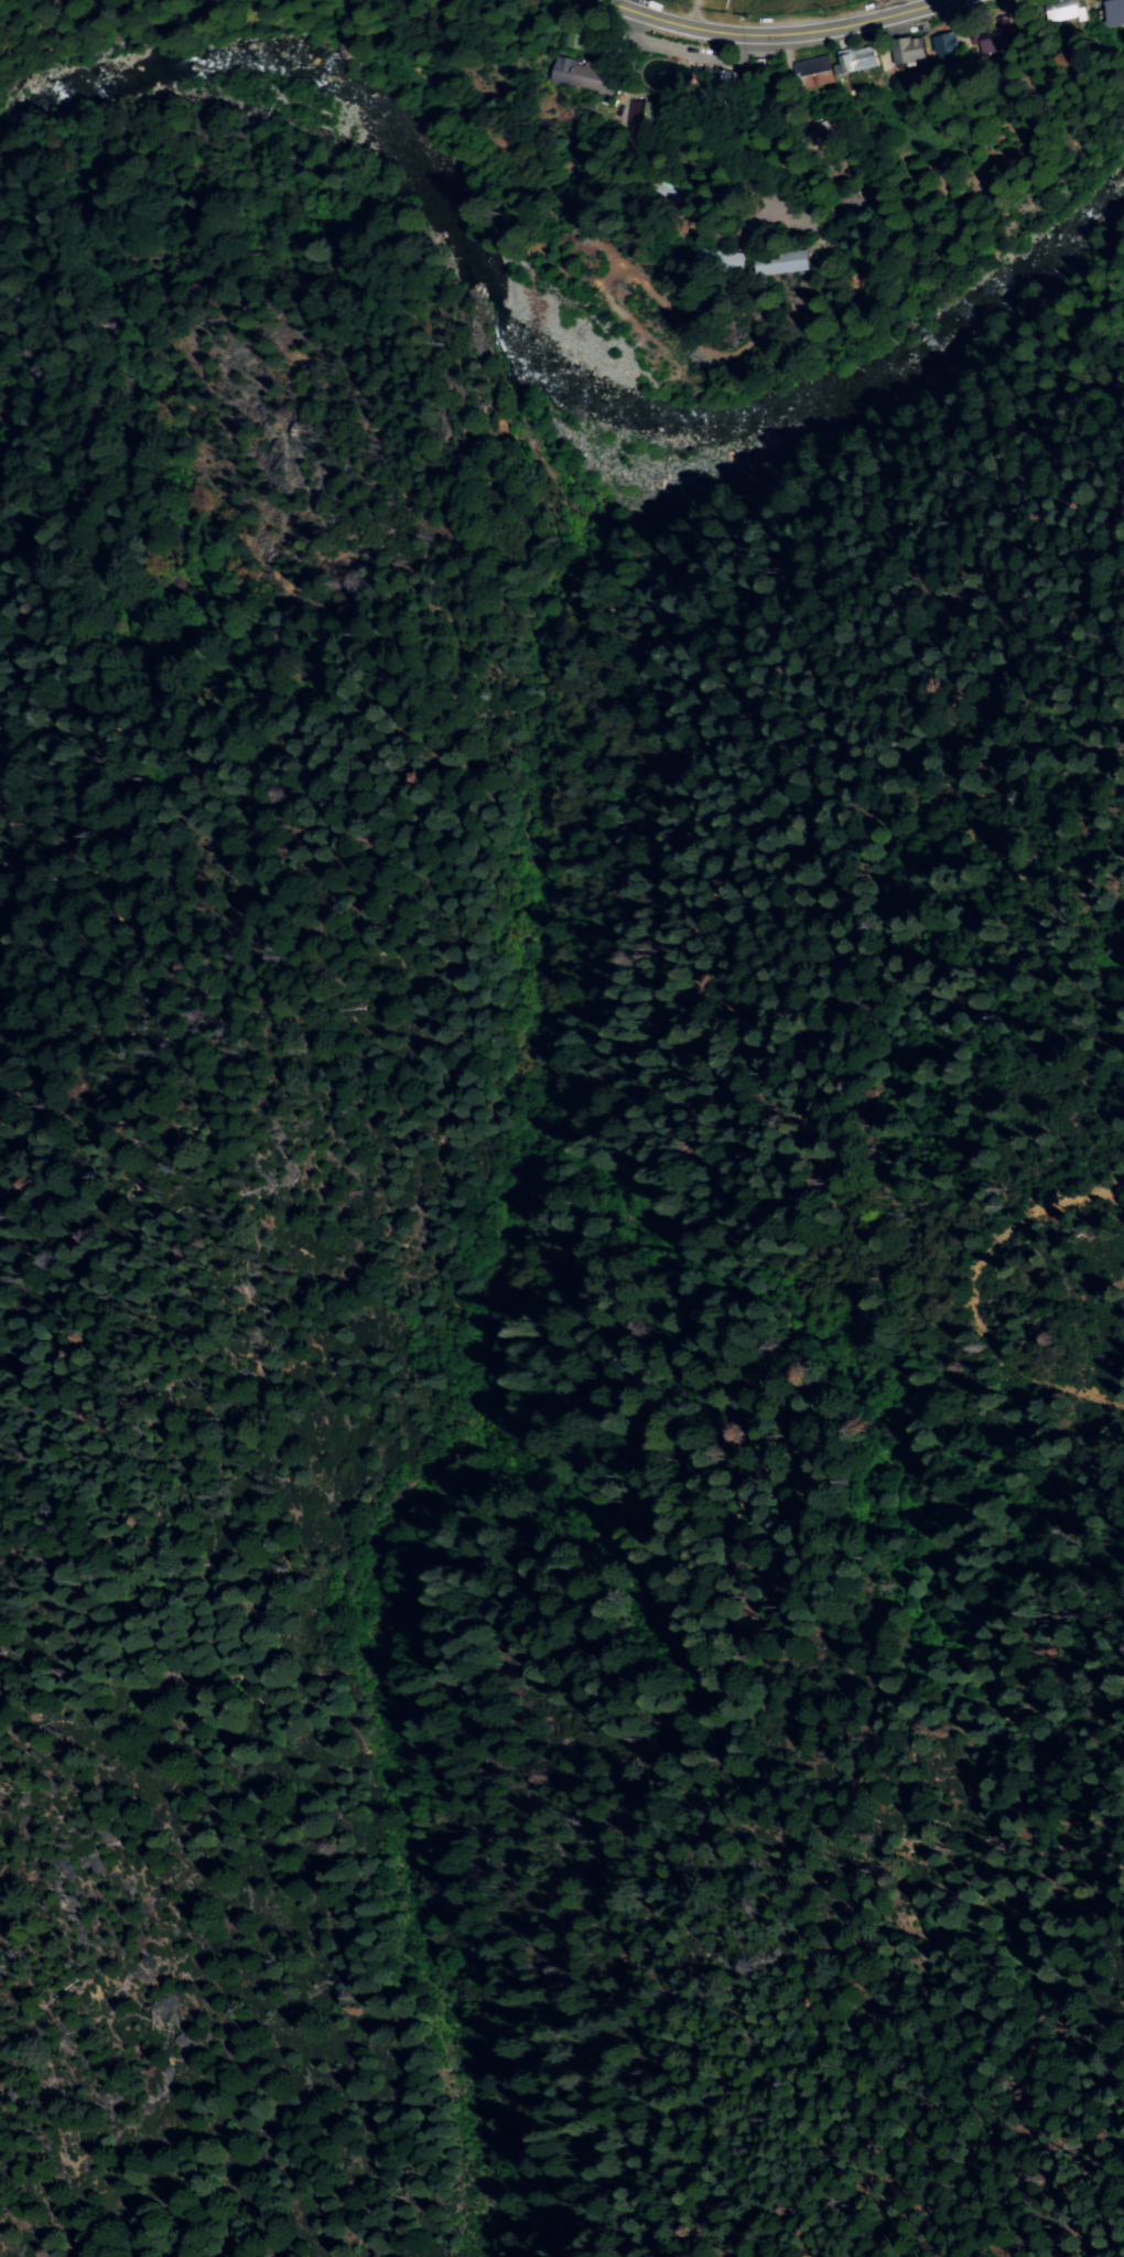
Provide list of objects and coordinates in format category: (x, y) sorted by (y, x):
building: (1058, 8)
building: (1117, 11)
road: (777, 31)
building: (985, 36)
building: (939, 44)
building: (997, 46)
building: (905, 47)
road: (682, 53)
building: (854, 57)
building: (808, 71)
building: (576, 75)
building: (639, 109)
building: (771, 258)
river: (543, 333)

